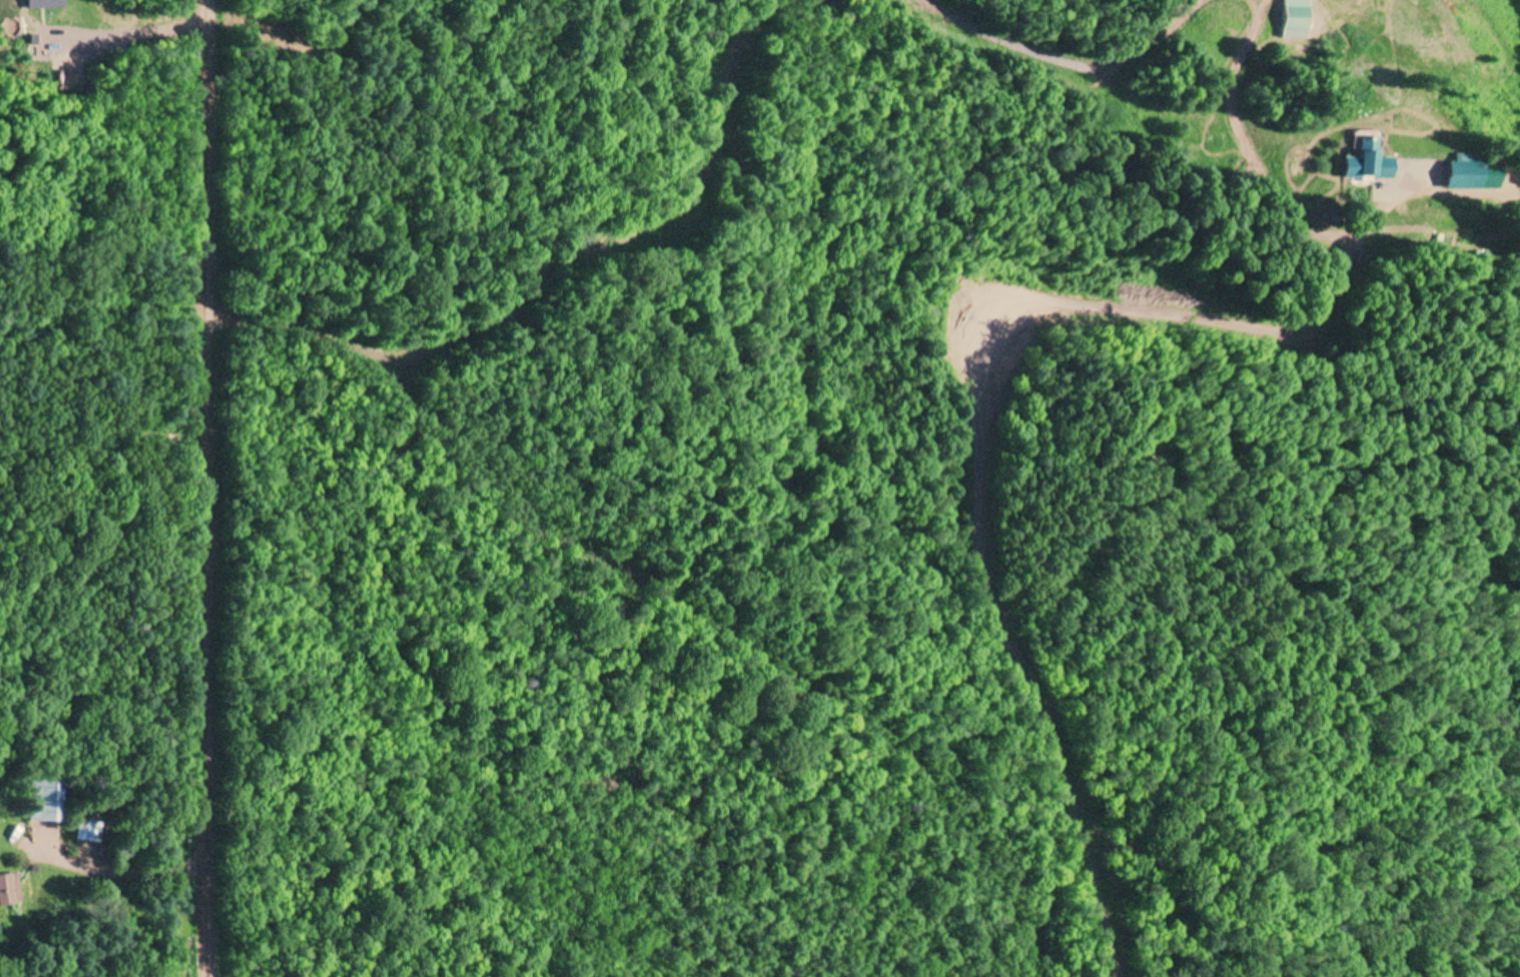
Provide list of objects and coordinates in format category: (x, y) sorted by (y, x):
building: (1290, 18)
road: (1057, 61)
building: (1361, 162)
building: (1465, 172)
road: (553, 263)
road: (199, 488)
building: (44, 800)
building: (87, 829)
building: (8, 888)

